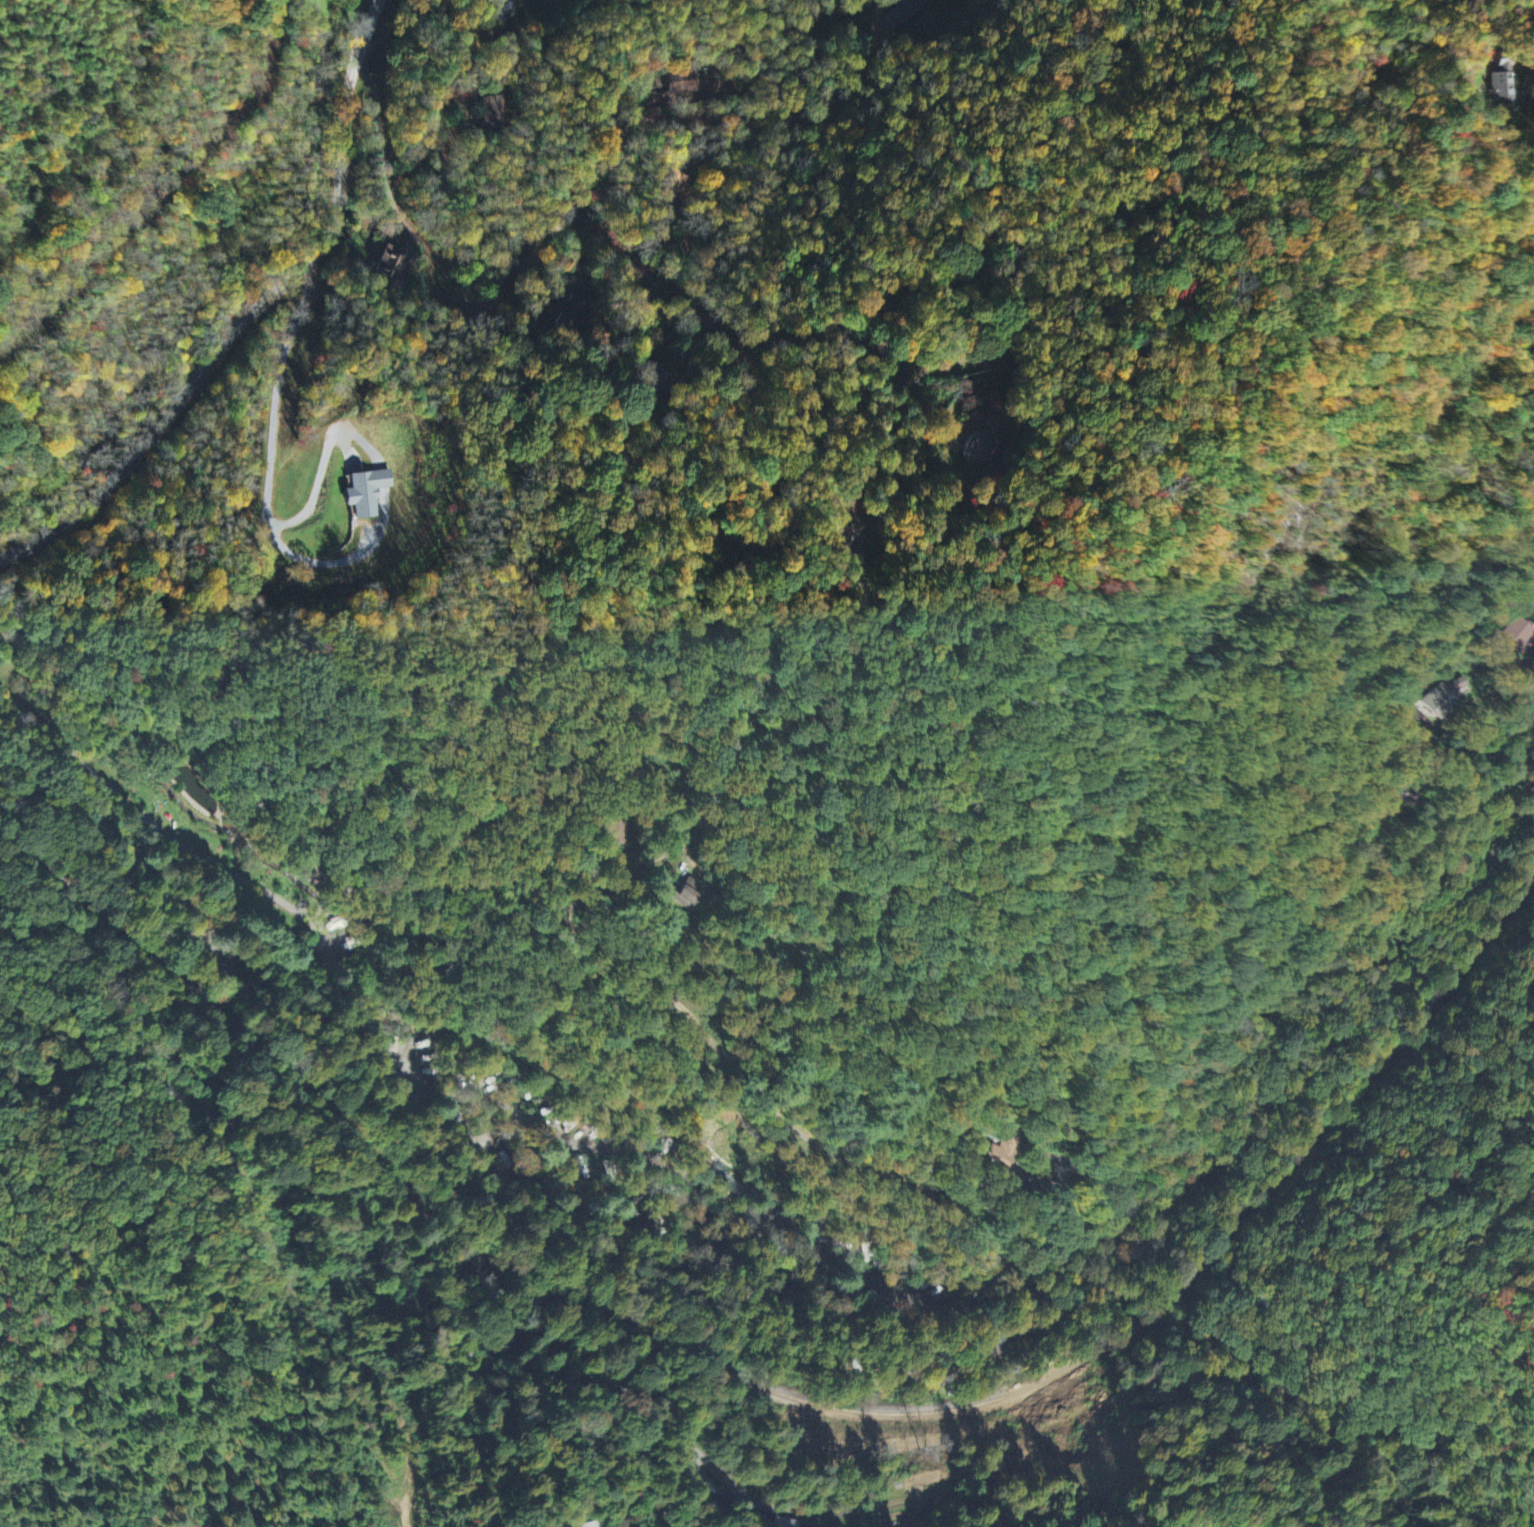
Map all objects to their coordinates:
building: (905, 12)
road: (348, 111)
road: (178, 406)
road: (653, 444)
building: (978, 449)
building: (364, 493)
road: (1028, 1225)
road: (272, 1240)
road: (362, 1287)
railway: (788, 1395)

